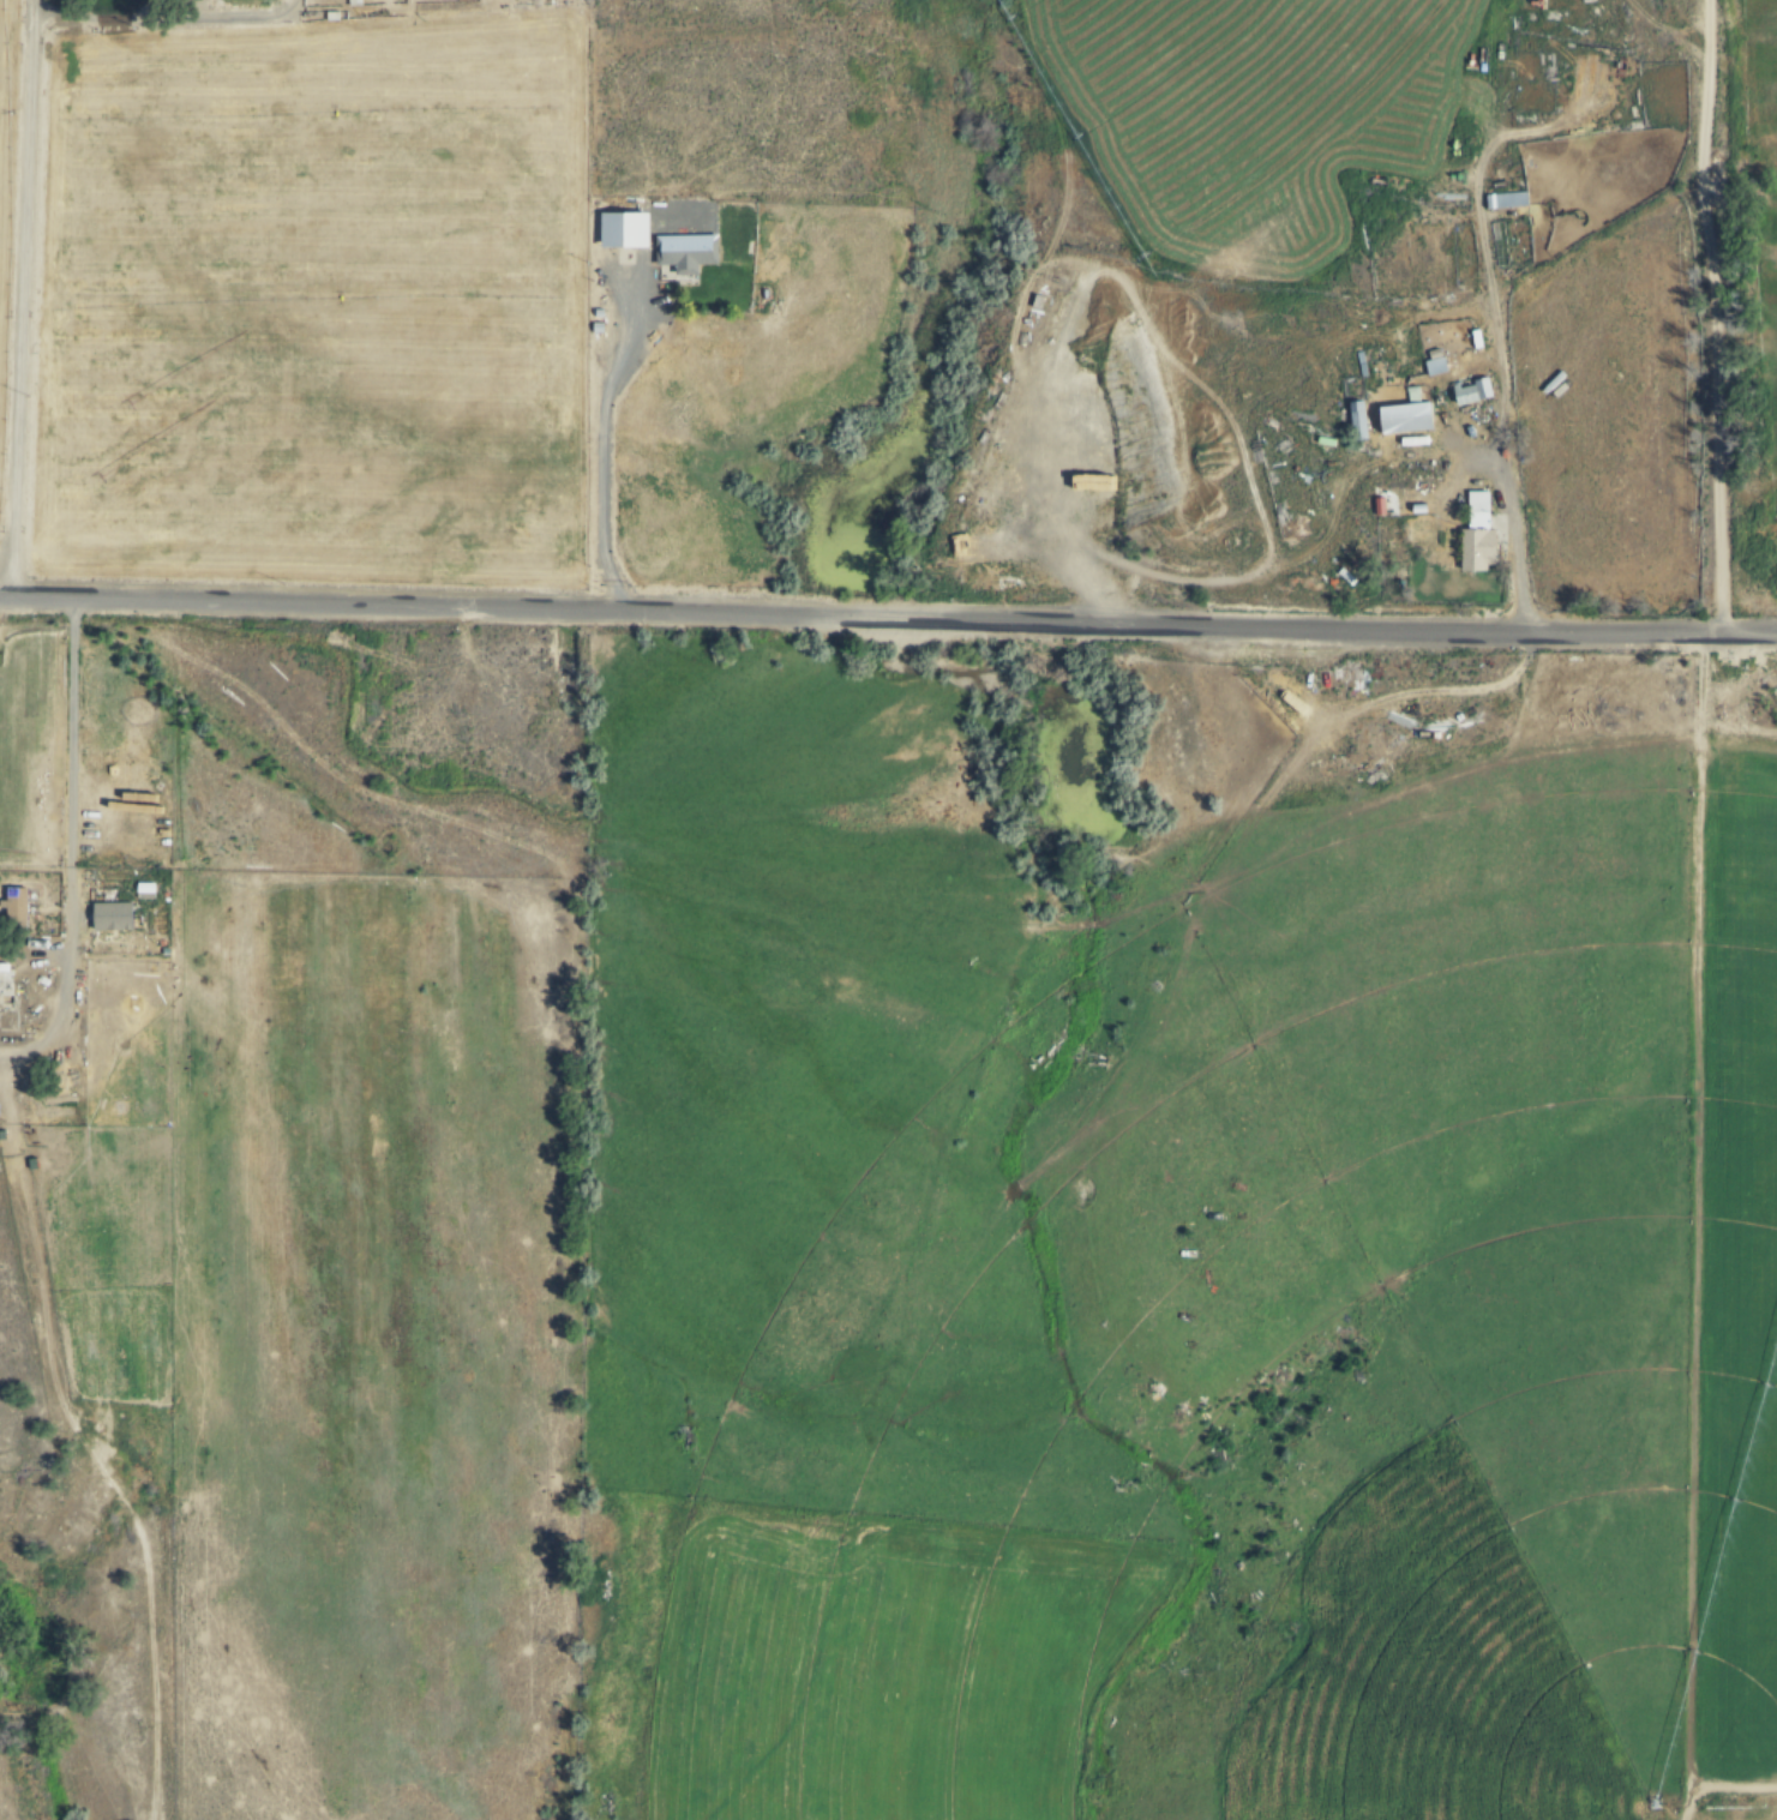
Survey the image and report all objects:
building: (1508, 202)
building: (624, 230)
building: (688, 252)
road: (13, 288)
road: (1490, 314)
building: (1473, 395)
road: (1239, 419)
building: (1406, 420)
building: (1359, 422)
road: (605, 433)
road: (1001, 470)
building: (1478, 536)
road: (1287, 565)
road: (888, 617)
road: (1502, 731)
road: (66, 833)
building: (145, 890)
road: (1257, 893)
building: (14, 902)
building: (113, 917)
building: (166, 951)
road: (10, 1053)
road: (1697, 1227)
road: (83, 1436)

